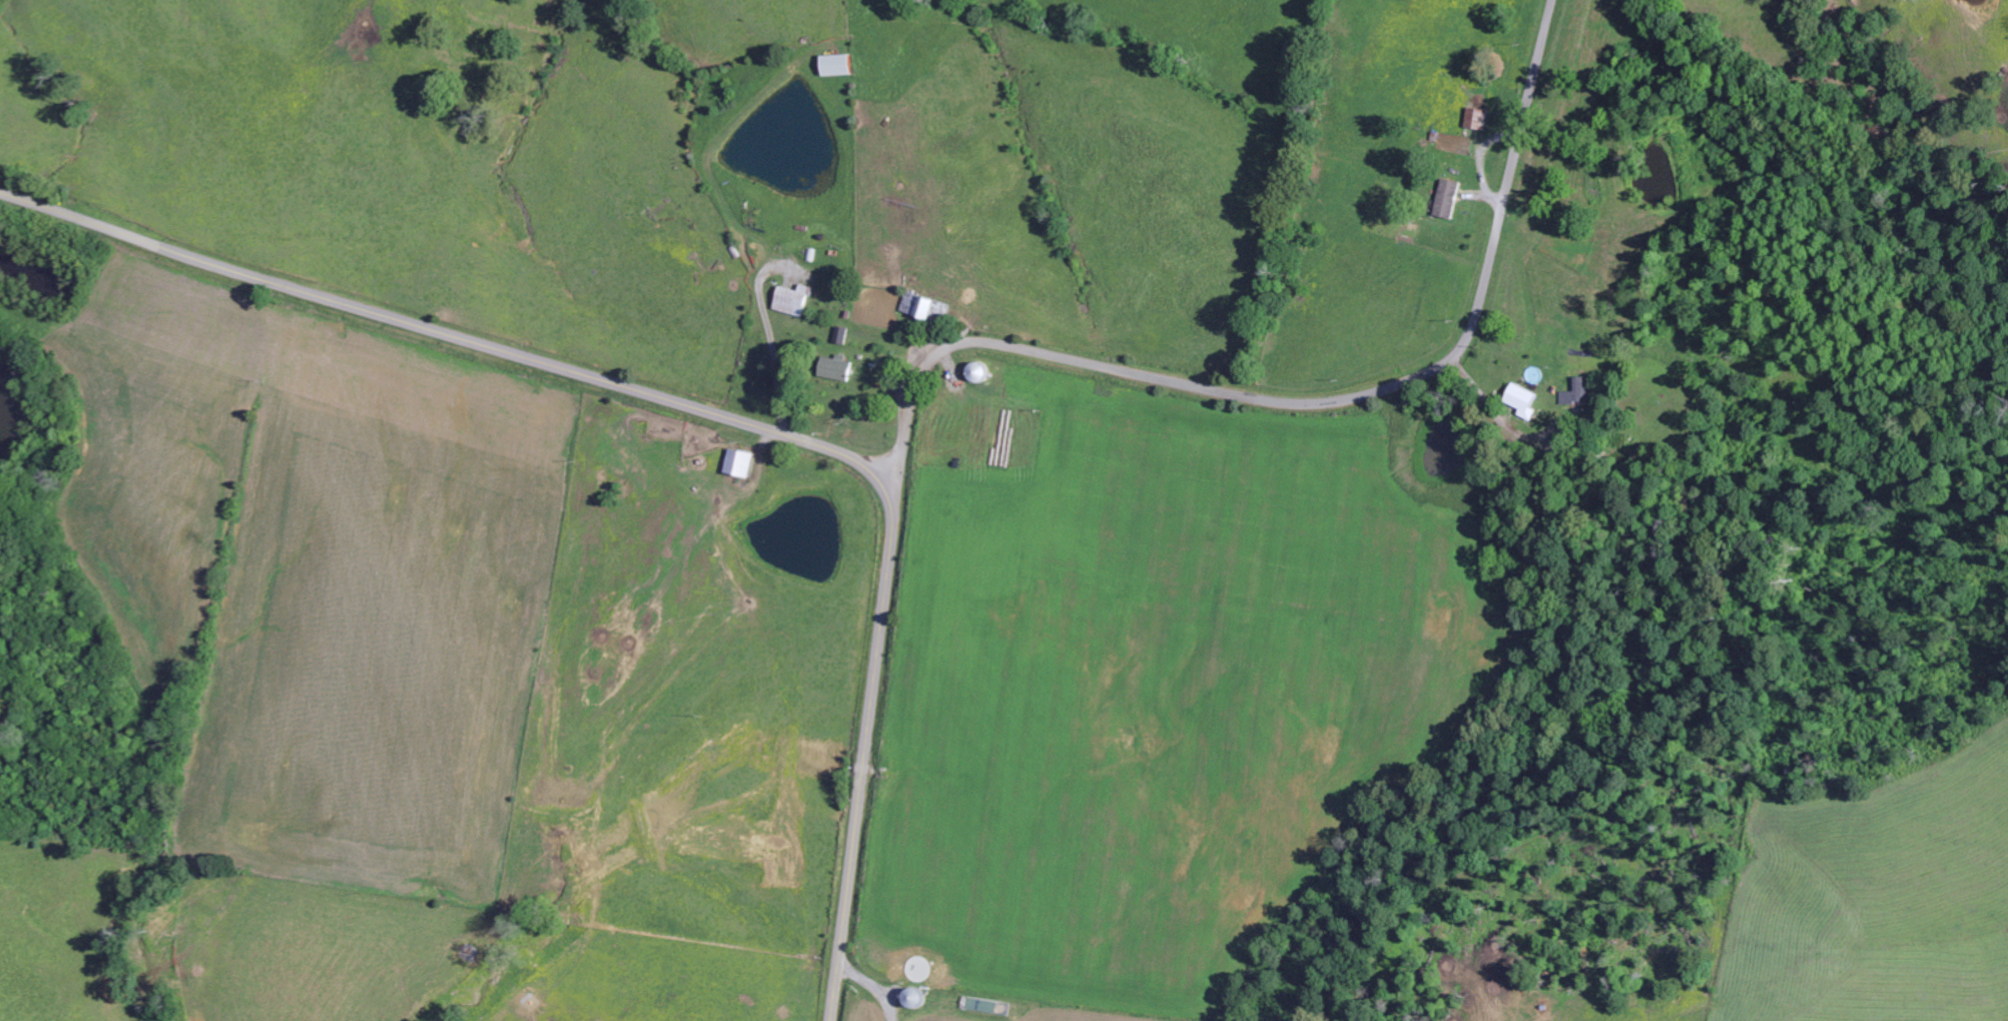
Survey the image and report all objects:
building: (841, 64)
building: (1479, 118)
building: (1451, 198)
building: (795, 300)
building: (928, 307)
building: (838, 368)
building: (1583, 392)
building: (1527, 400)
road: (1291, 403)
road: (704, 409)
building: (742, 463)

